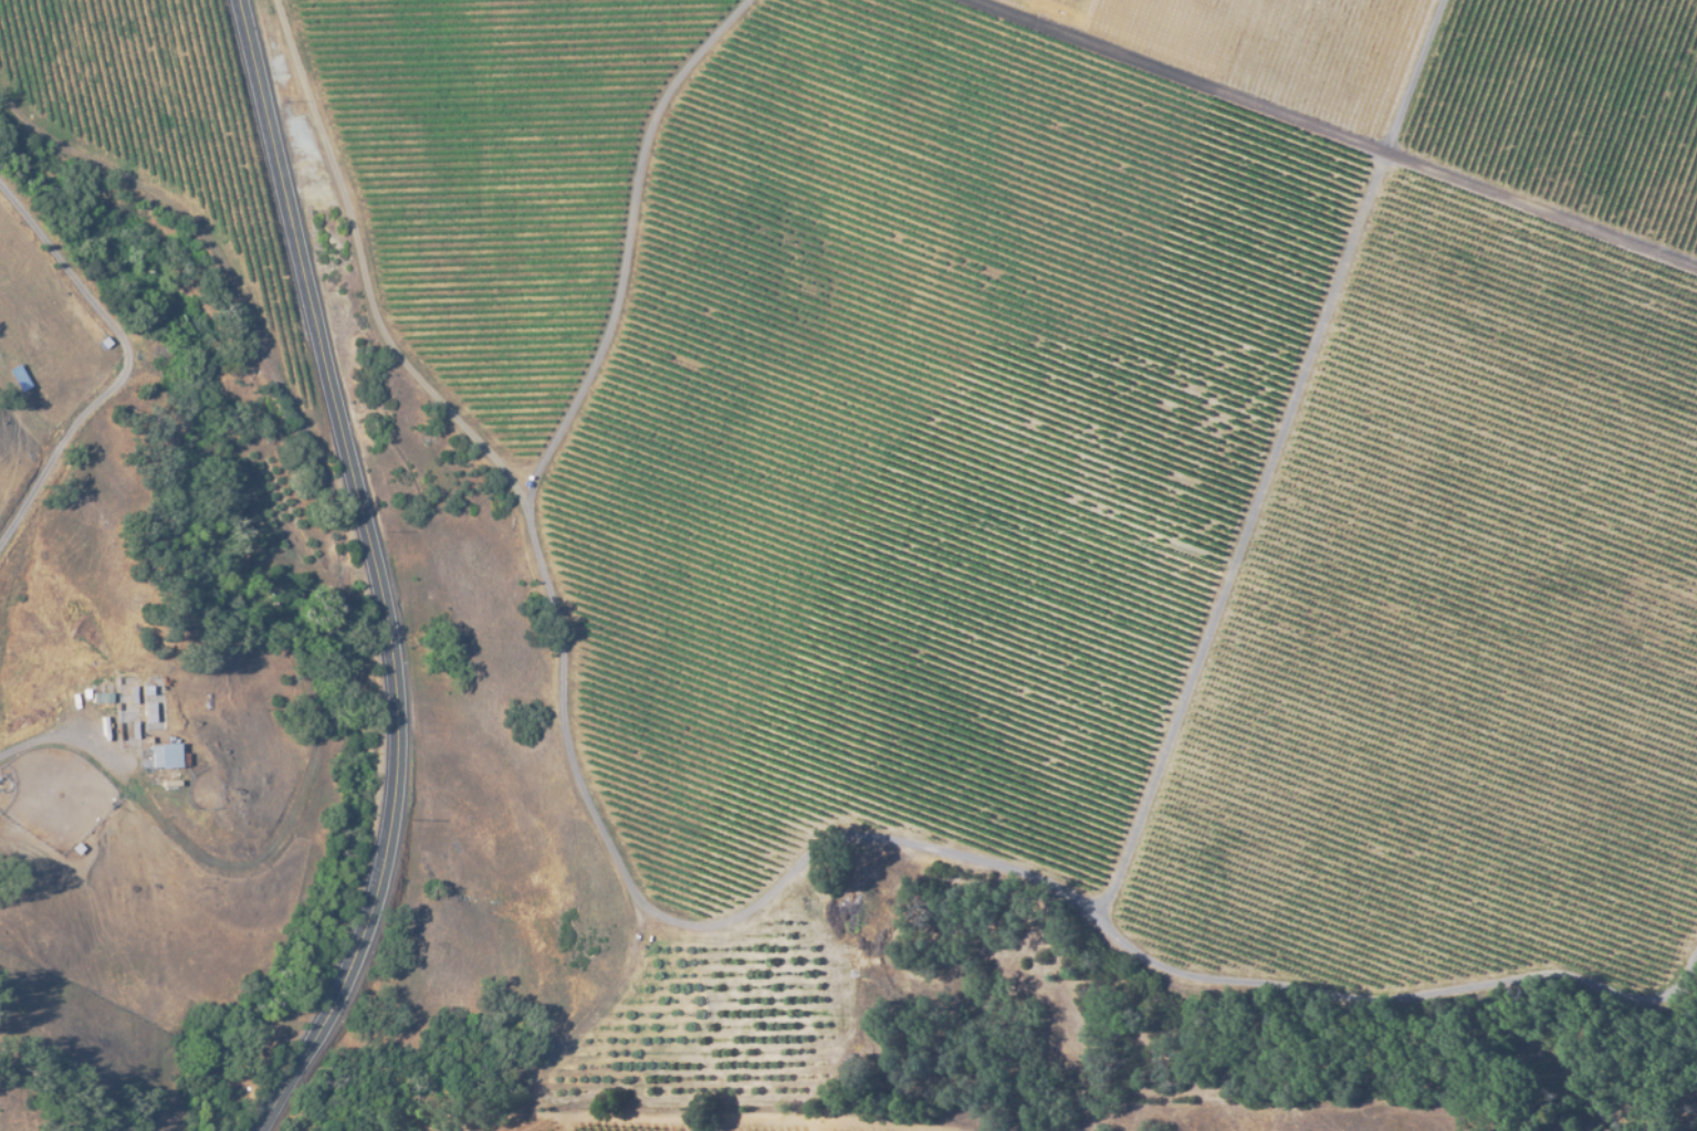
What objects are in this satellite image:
road: (898, 4)
road: (146, 197)
road: (39, 426)
road: (384, 574)
road: (294, 702)
building: (163, 755)

